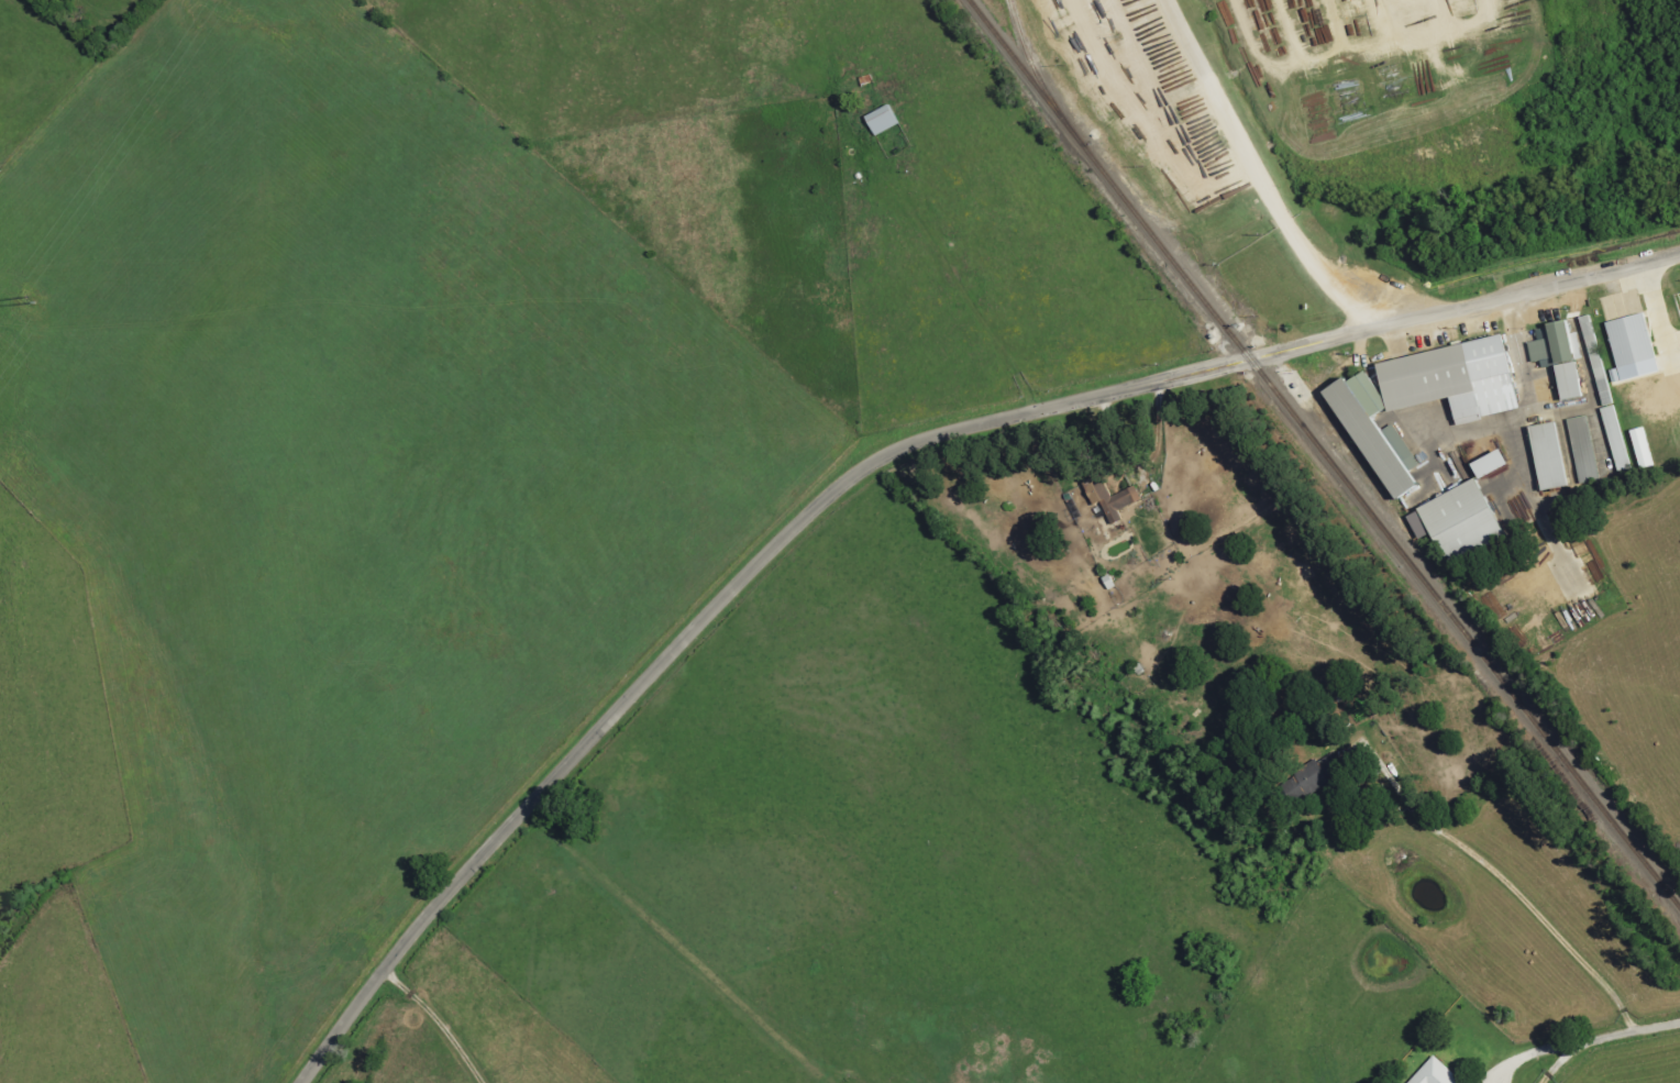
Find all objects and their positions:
railway: (1034, 71)
building: (884, 121)
railway: (1065, 128)
road: (960, 287)
power tower: (26, 299)
road: (1346, 301)
building: (1573, 325)
building: (1628, 345)
building: (1556, 357)
building: (1594, 360)
building: (1448, 379)
building: (1369, 432)
building: (1613, 438)
building: (1638, 447)
building: (1579, 450)
building: (1545, 455)
road: (867, 464)
building: (1483, 464)
building: (1108, 498)
building: (1458, 521)
railway: (1423, 584)
building: (1309, 777)
road: (1512, 887)
road: (672, 944)
road: (436, 1021)
road: (1578, 1046)
road: (1556, 1065)
building: (1433, 1073)

